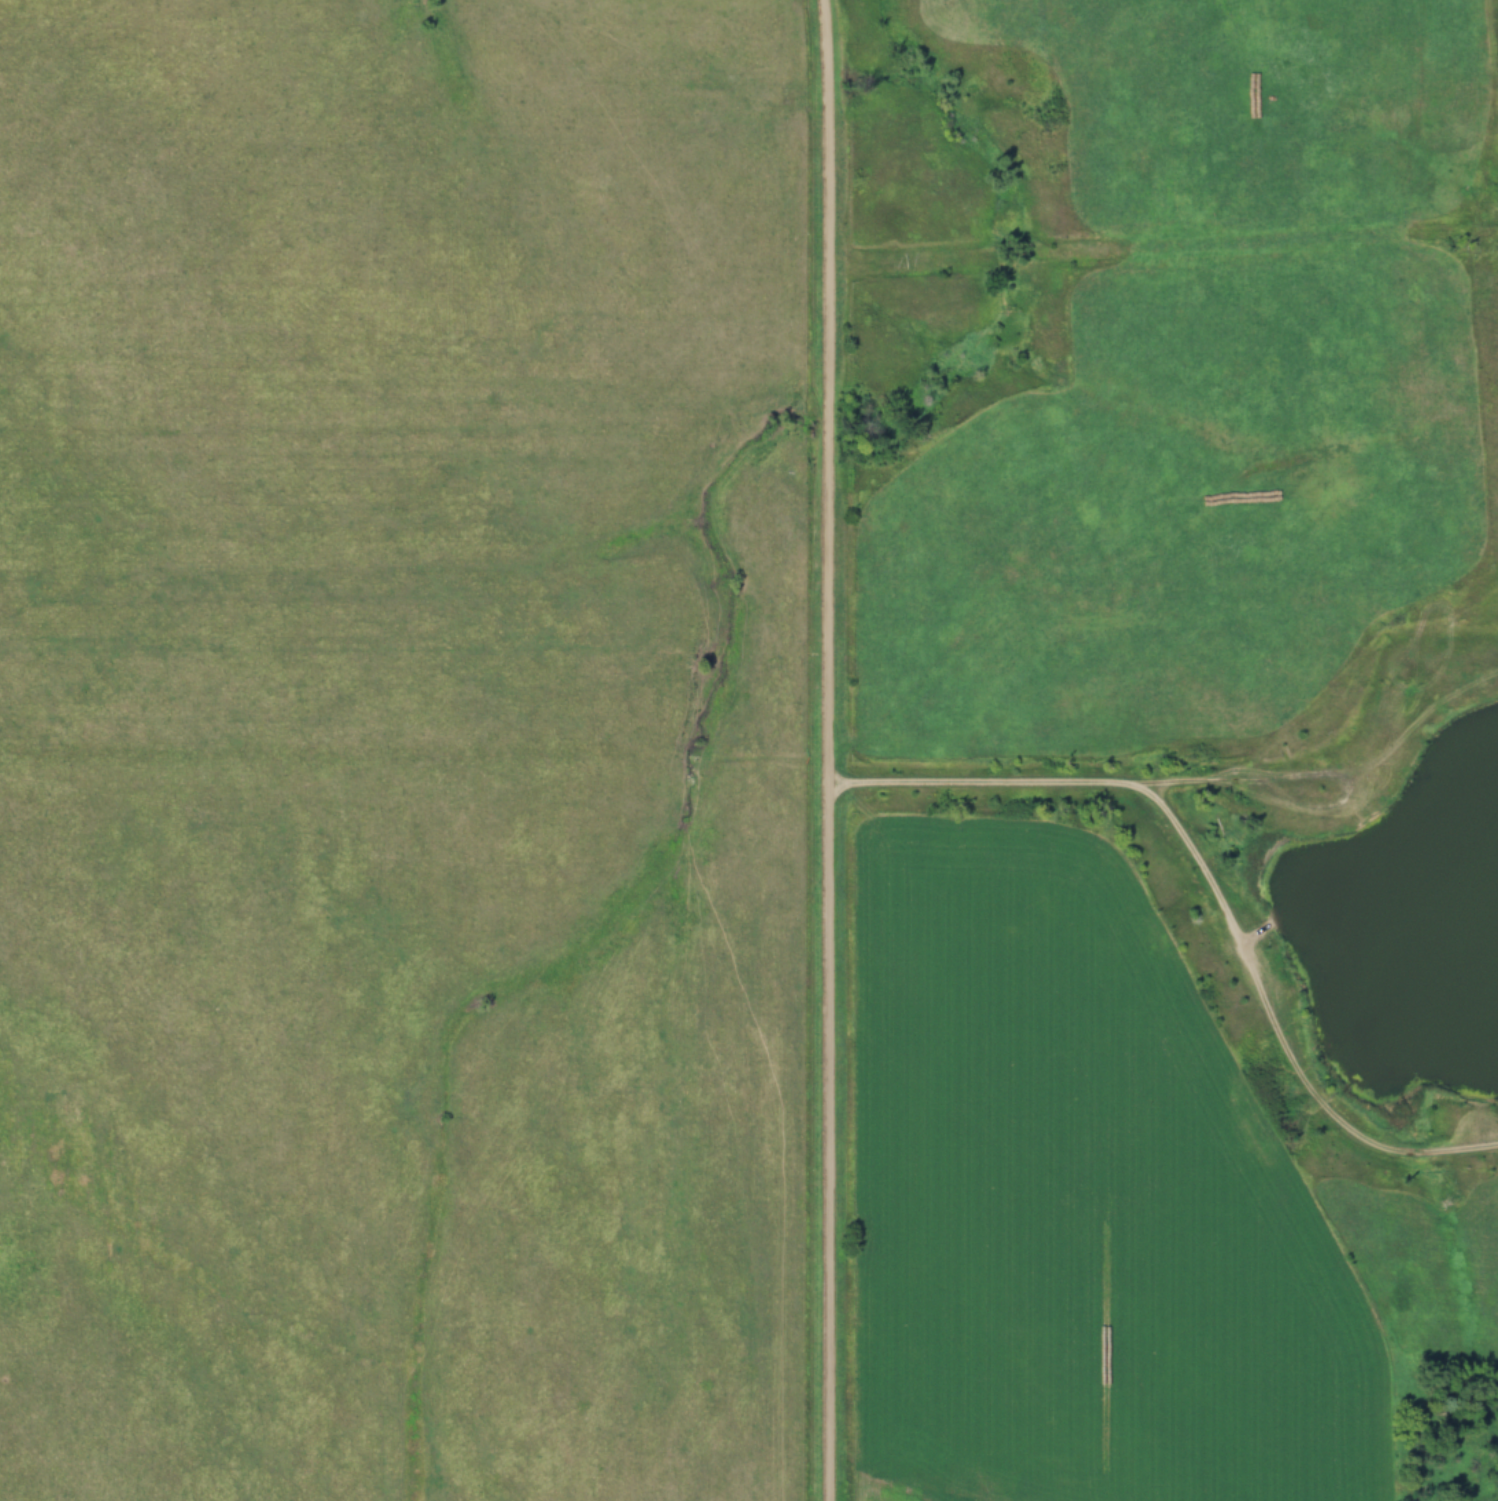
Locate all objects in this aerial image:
road: (826, 750)
road: (1342, 795)
road: (1206, 887)

